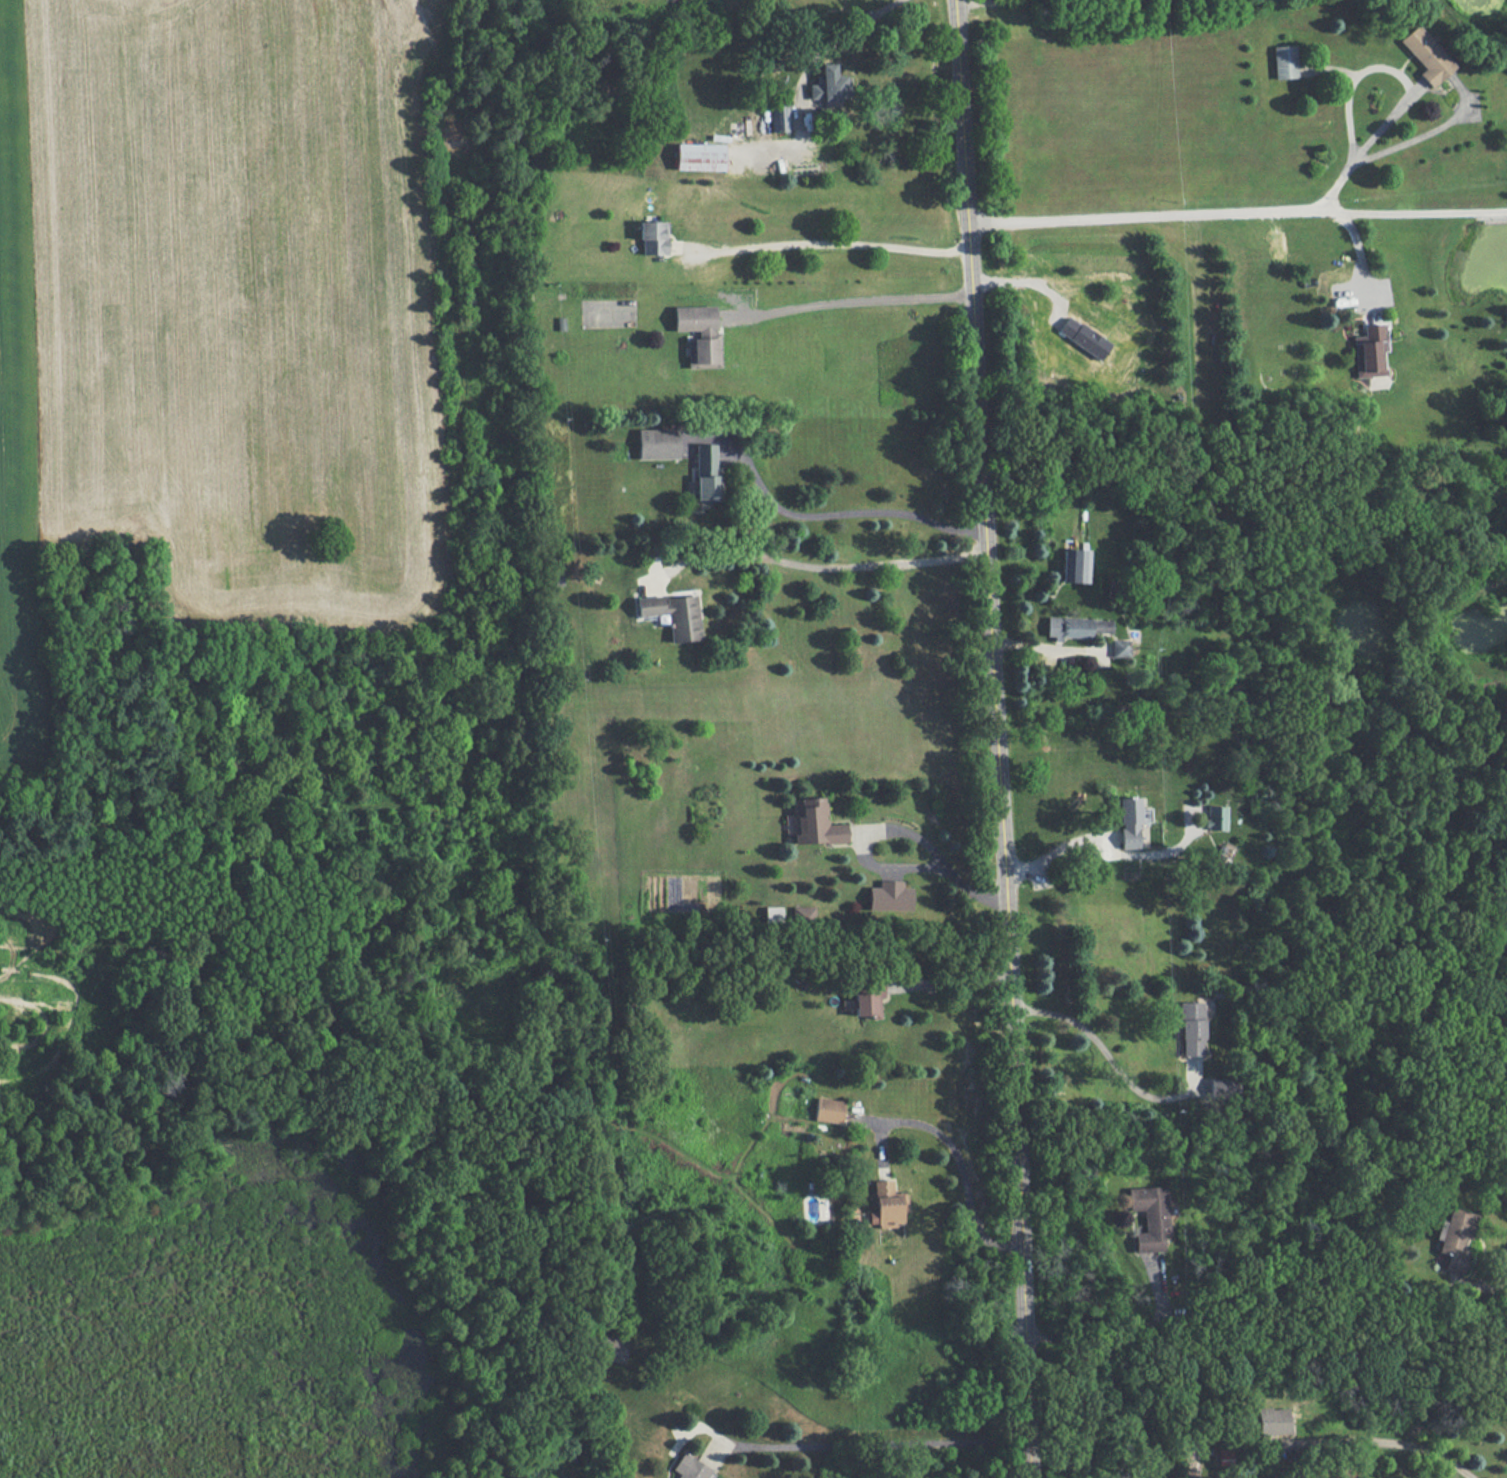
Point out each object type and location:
road: (837, 40)
building: (1425, 55)
building: (1285, 61)
building: (828, 84)
road: (1407, 92)
building: (777, 117)
building: (699, 156)
road: (1235, 214)
building: (652, 237)
road: (829, 245)
road: (1361, 264)
road: (852, 303)
building: (698, 334)
building: (1083, 337)
building: (1370, 350)
building: (656, 443)
building: (705, 473)
road: (843, 511)
building: (1074, 564)
road: (817, 565)
building: (672, 613)
building: (1075, 626)
road: (1050, 643)
building: (1119, 647)
road: (1003, 738)
building: (1216, 816)
building: (1131, 820)
building: (816, 823)
road: (1057, 852)
road: (938, 858)
building: (888, 895)
building: (772, 913)
building: (802, 914)
road: (950, 982)
building: (867, 1001)
building: (1191, 1028)
road: (1112, 1061)
building: (1221, 1088)
building: (829, 1109)
road: (954, 1150)
building: (886, 1204)
building: (1149, 1215)
building: (1455, 1238)
road: (1491, 1285)
road: (1119, 1340)
building: (609, 1348)
building: (1273, 1419)
road: (1405, 1444)
road: (880, 1445)
building: (690, 1468)

